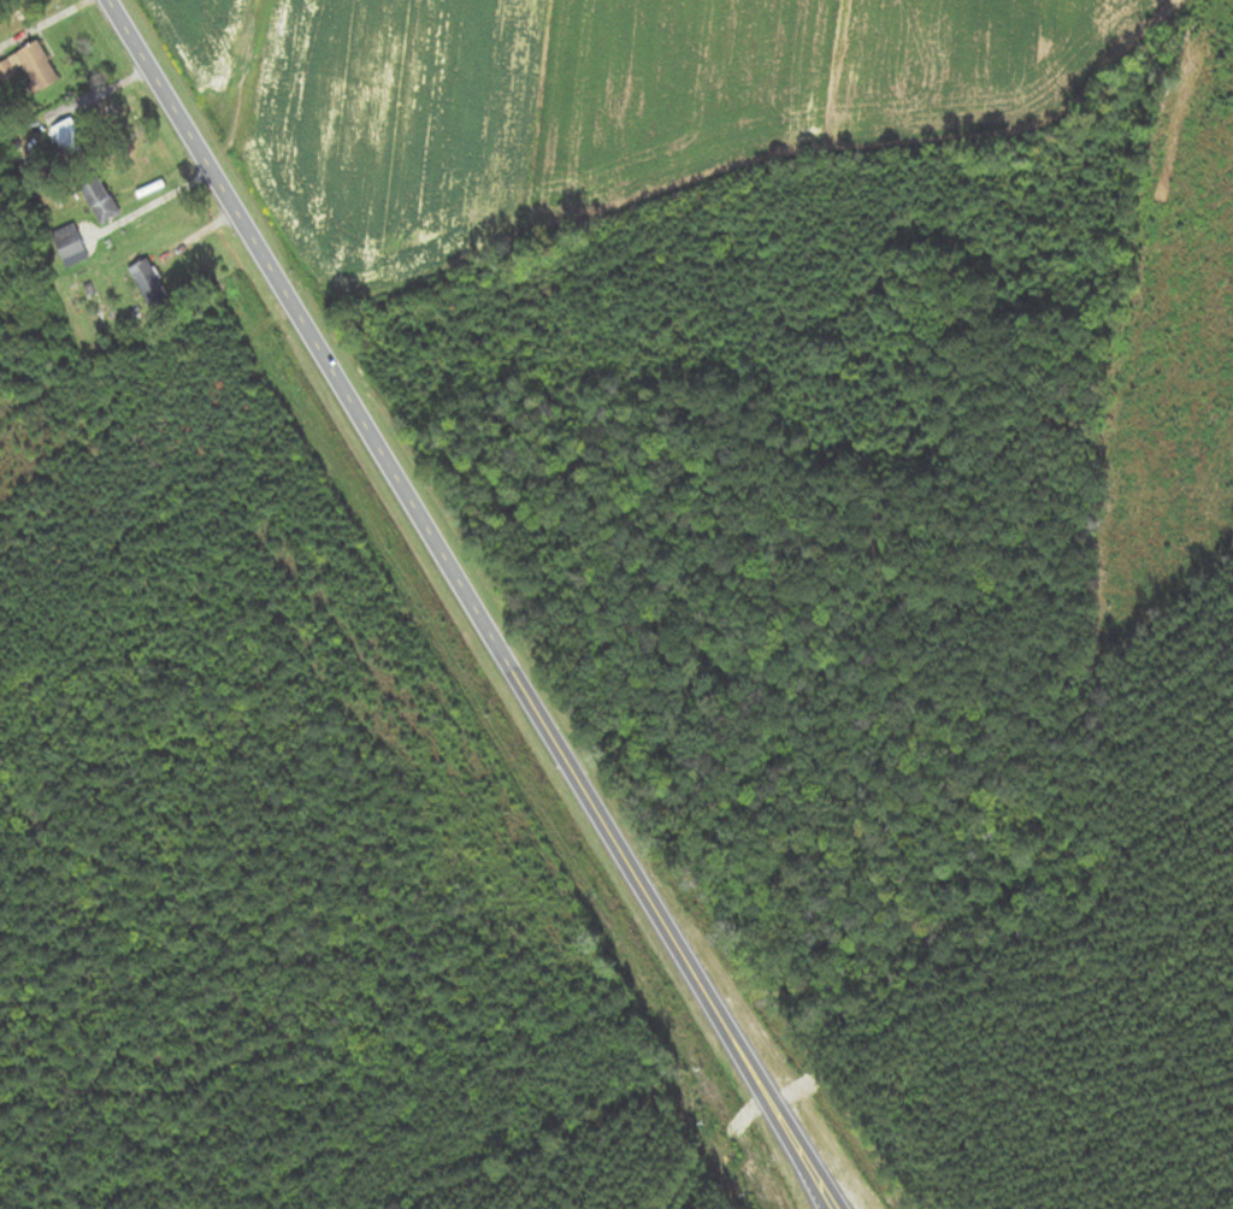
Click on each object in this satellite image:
building: (29, 66)
building: (66, 138)
building: (98, 200)
building: (147, 283)
road: (466, 607)
road: (739, 1155)

